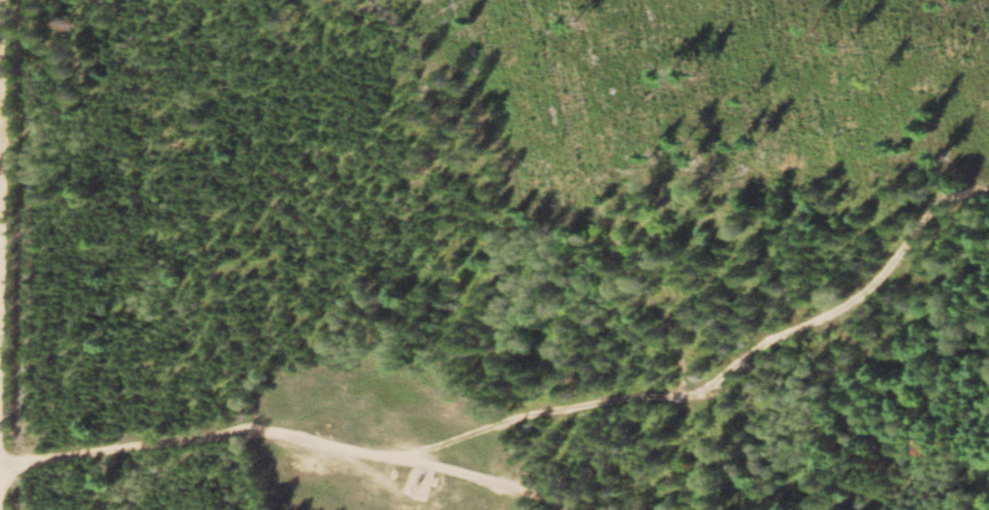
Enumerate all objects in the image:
road: (719, 375)
road: (277, 437)
petroleum well: (416, 484)

